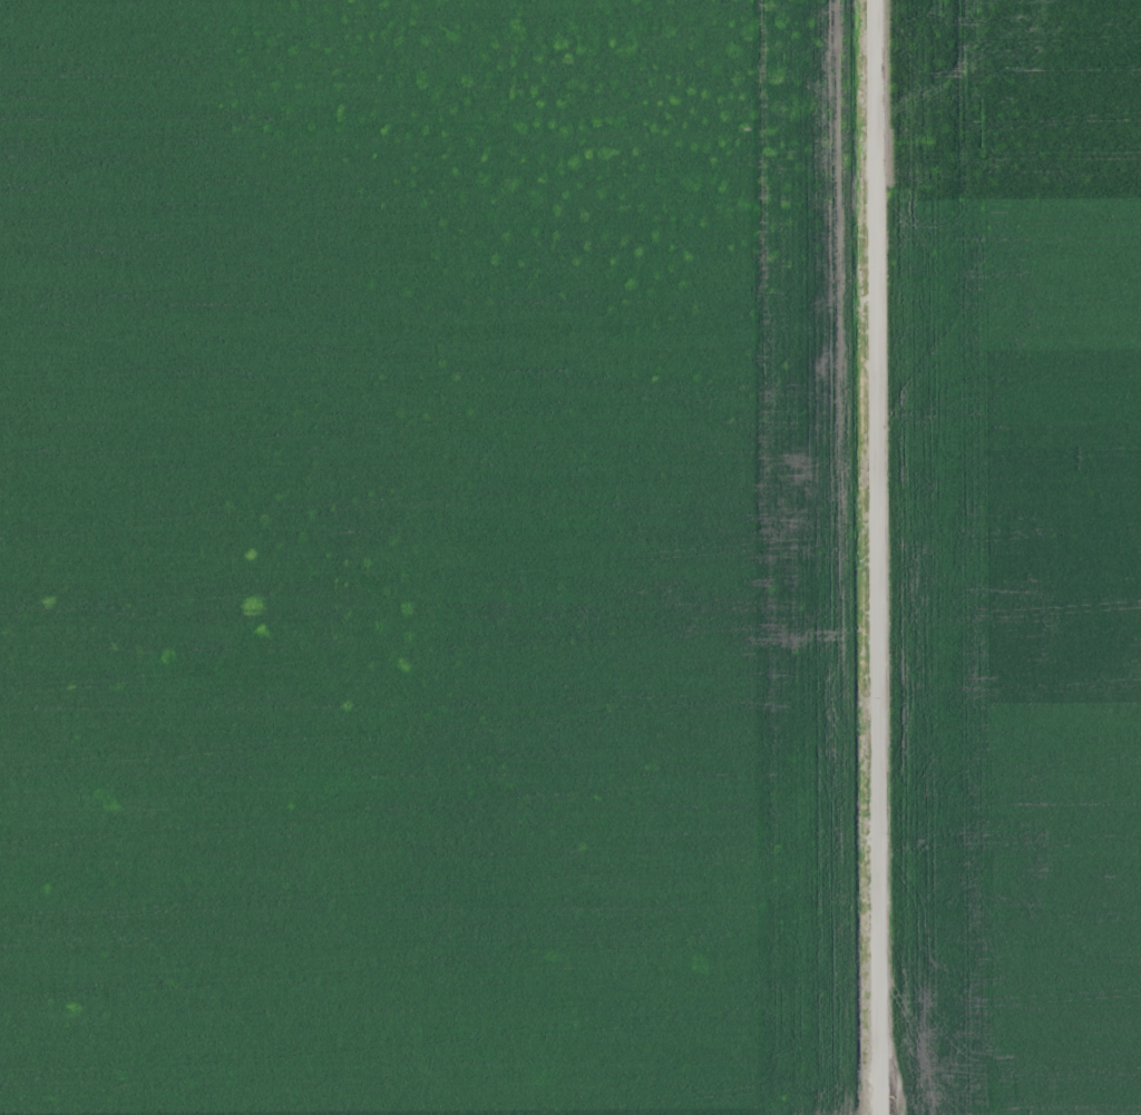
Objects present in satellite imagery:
road: (878, 557)

